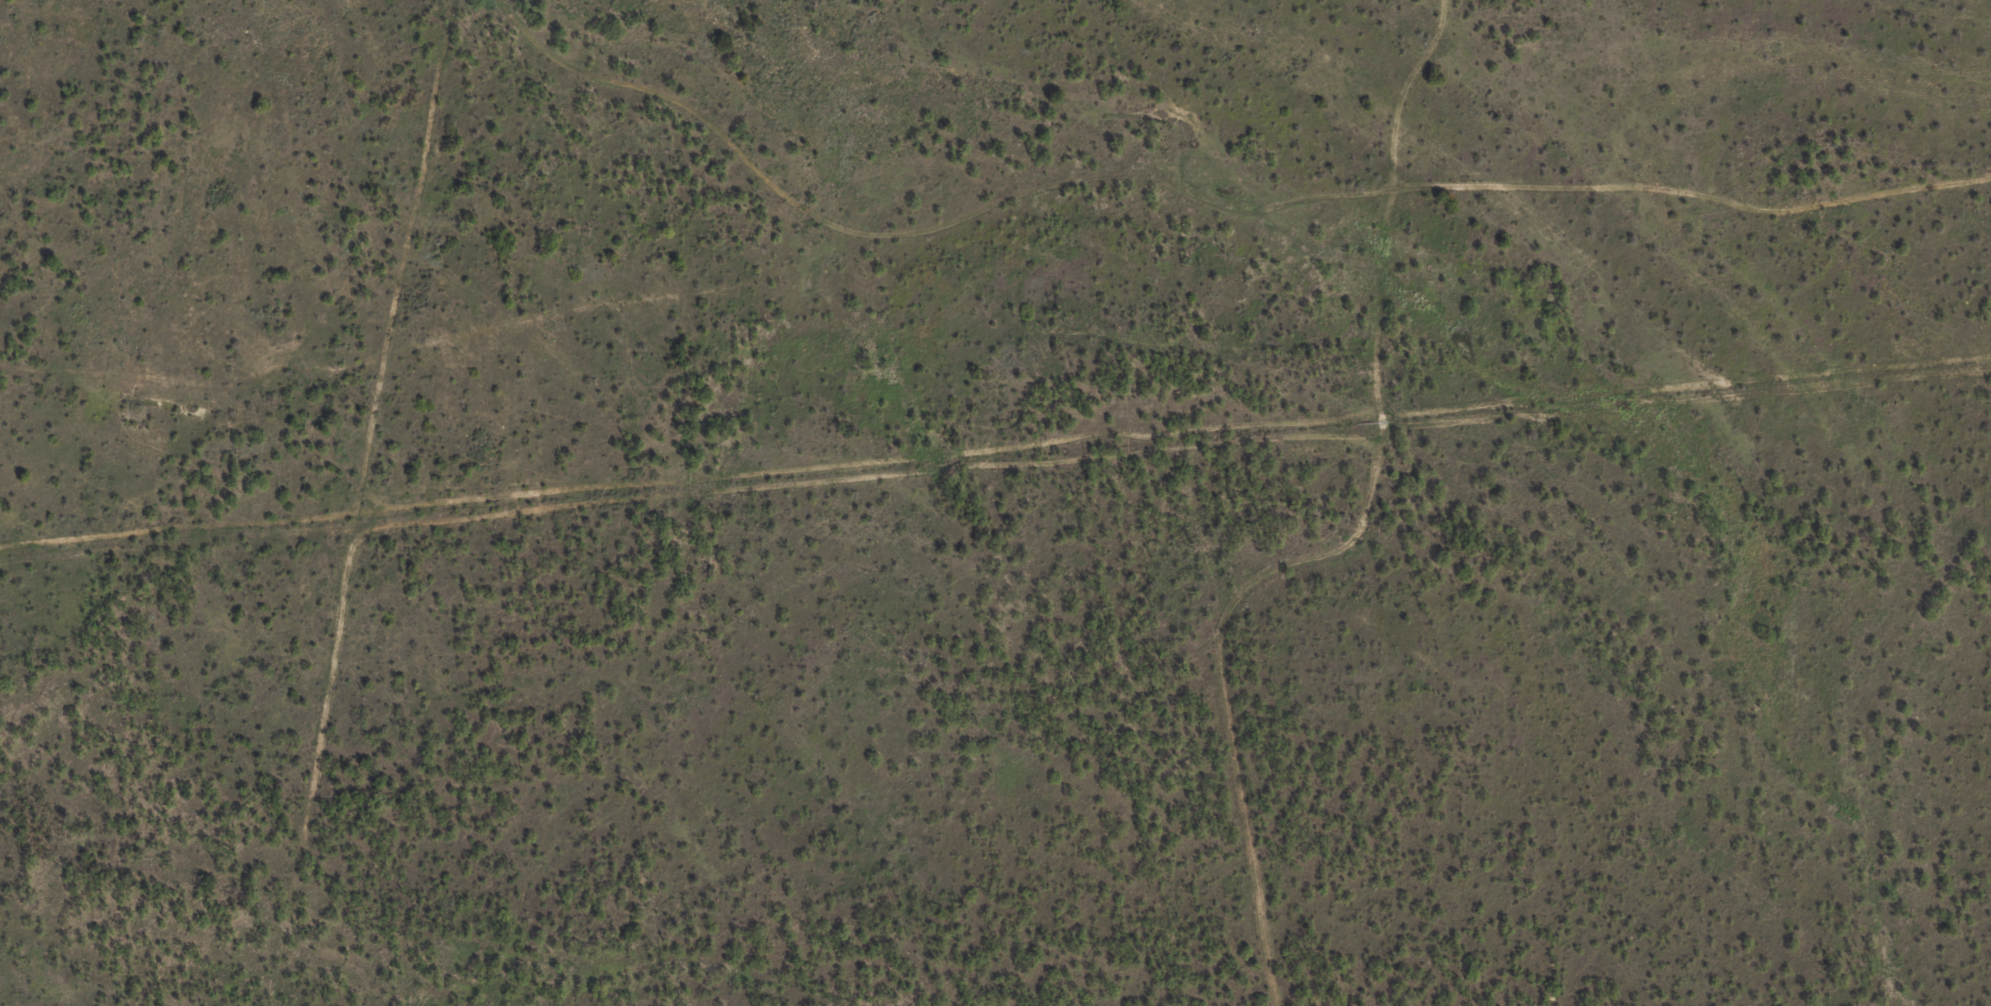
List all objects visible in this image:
road: (1393, 189)
road: (602, 312)

